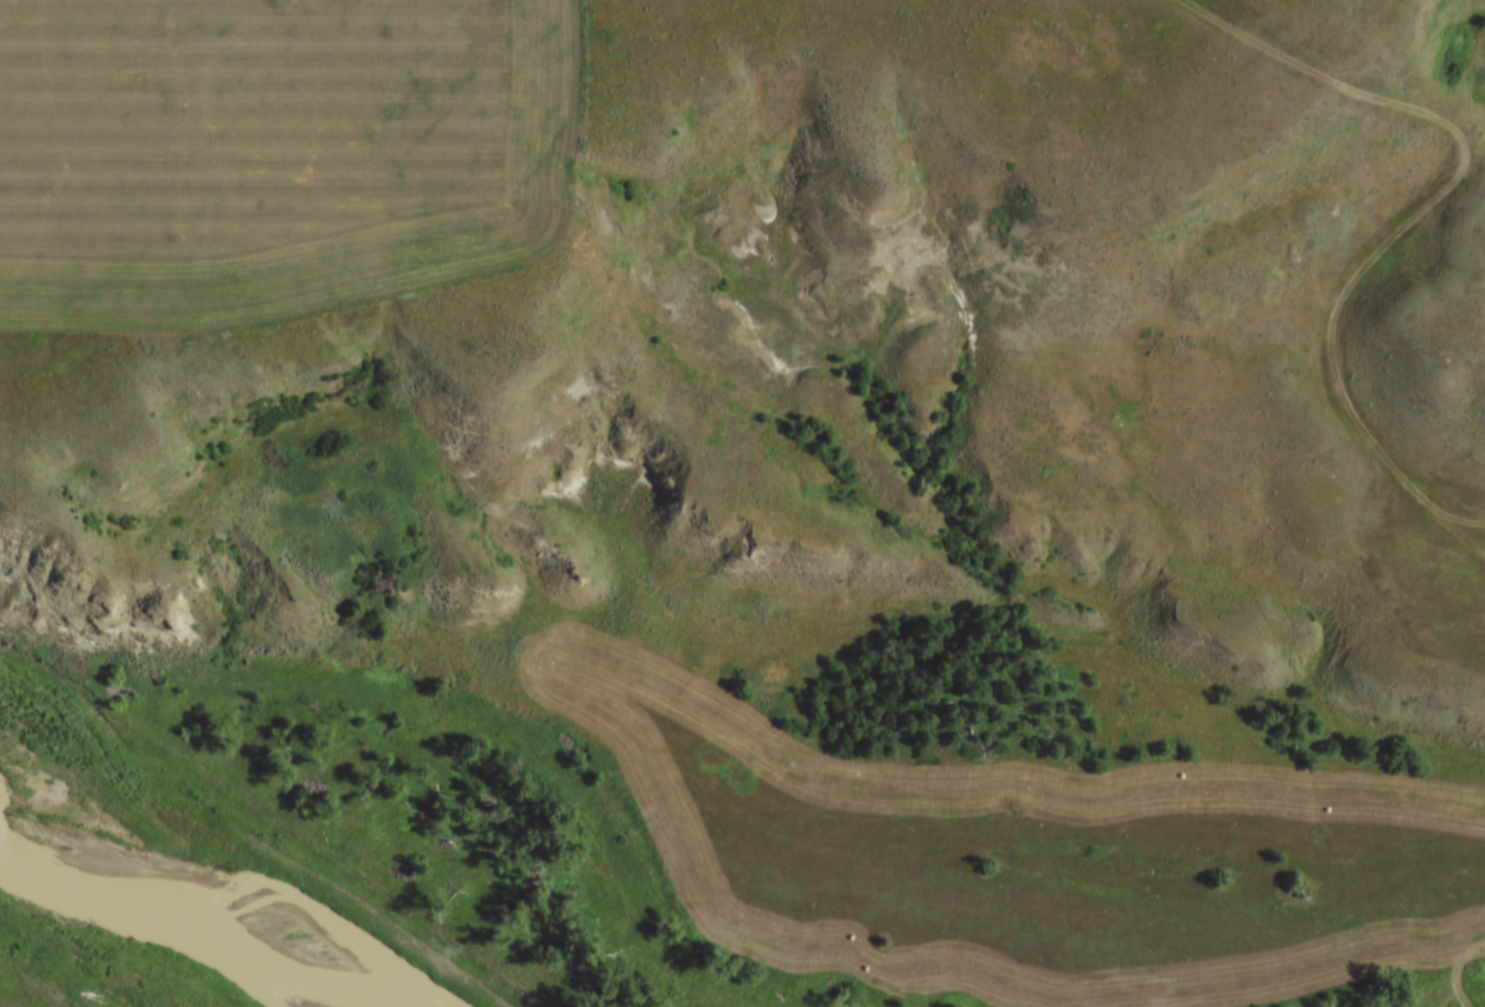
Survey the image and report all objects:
river: (213, 898)

